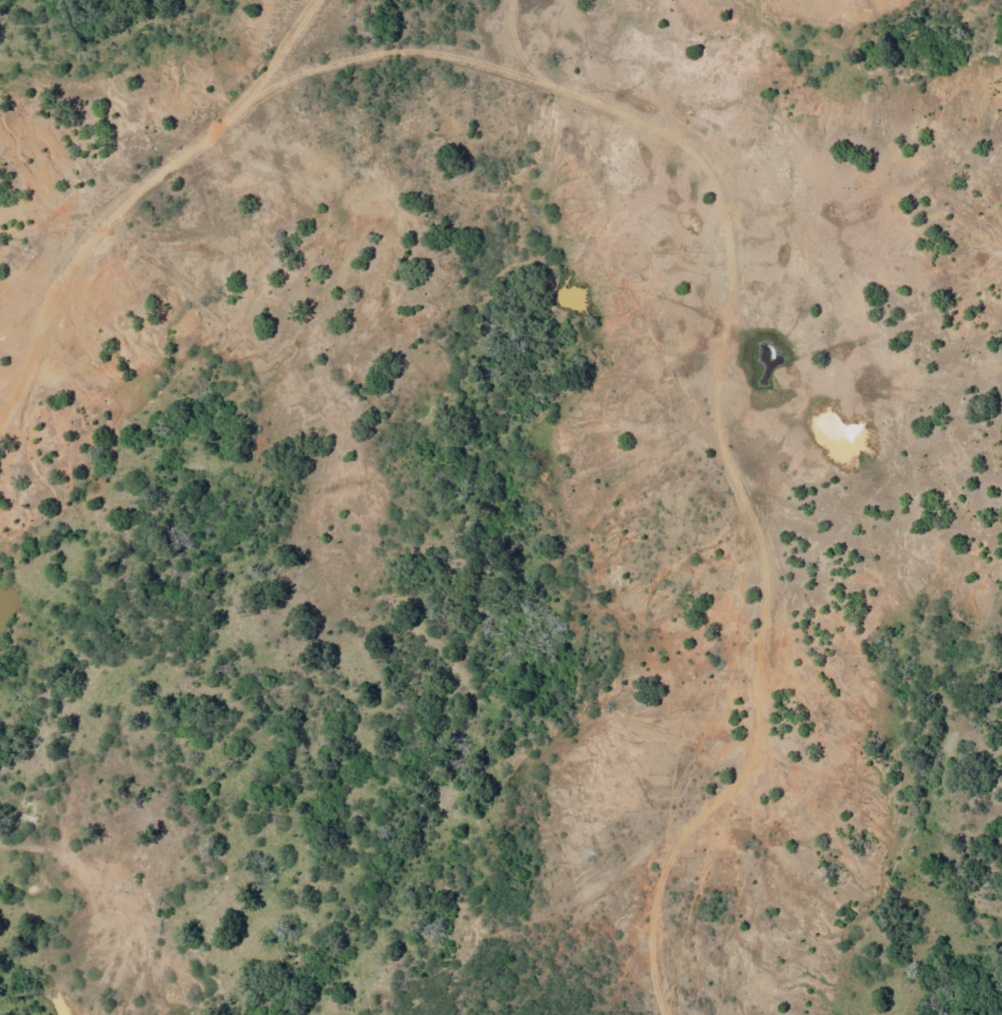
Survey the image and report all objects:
road: (122, 203)

